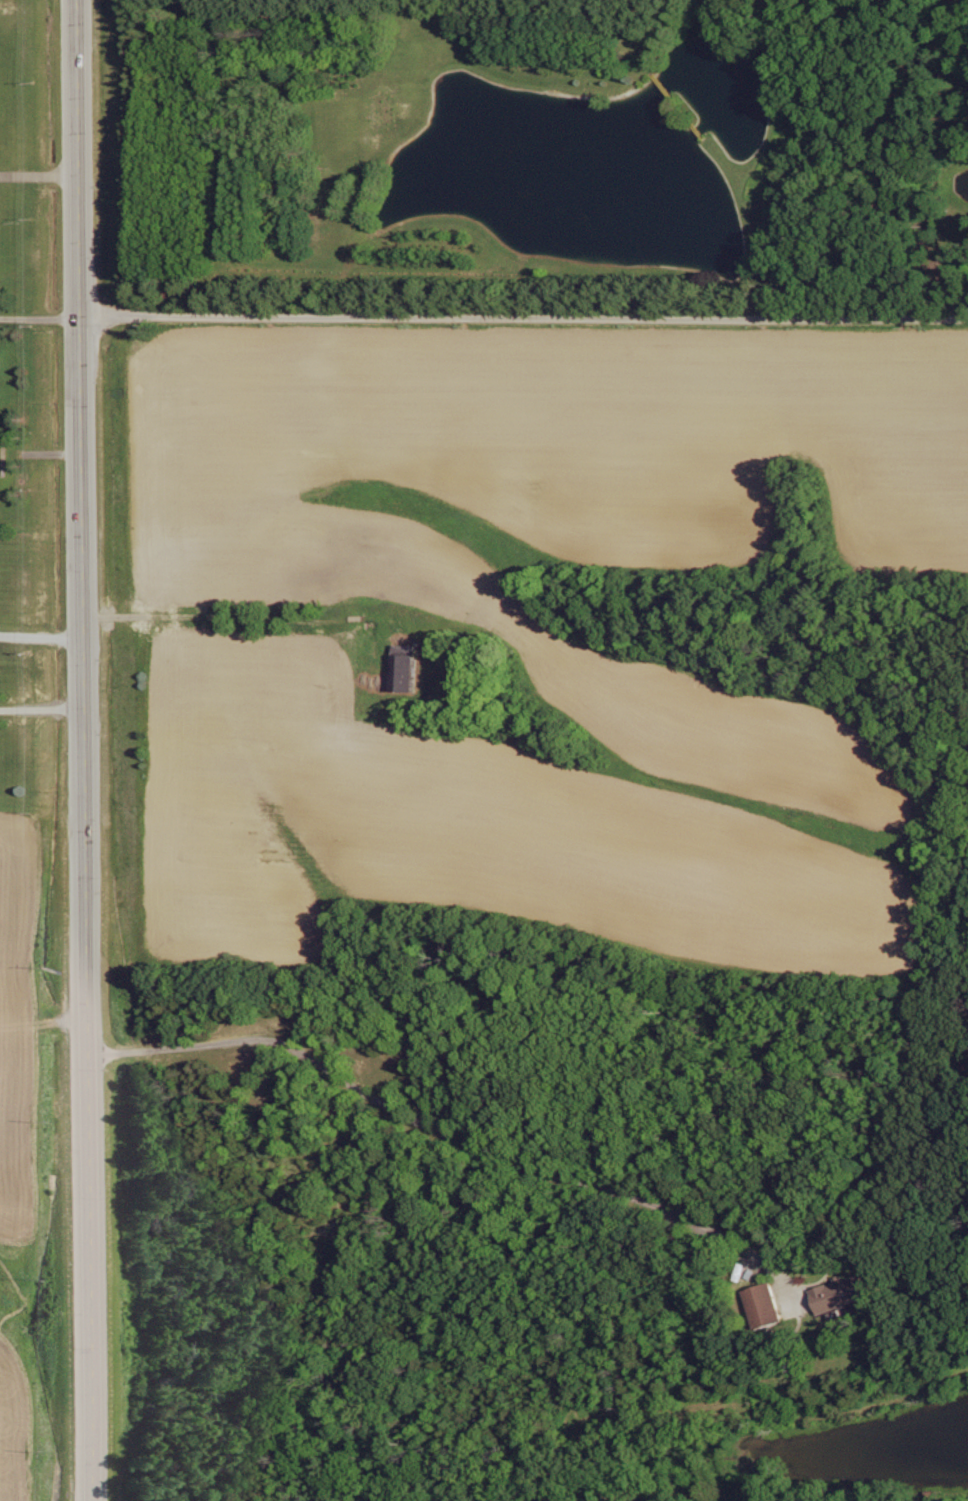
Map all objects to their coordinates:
road: (38, 175)
road: (523, 315)
road: (39, 318)
road: (40, 641)
building: (408, 671)
road: (41, 712)
road: (82, 750)
road: (443, 1137)
building: (841, 1294)
building: (765, 1305)

